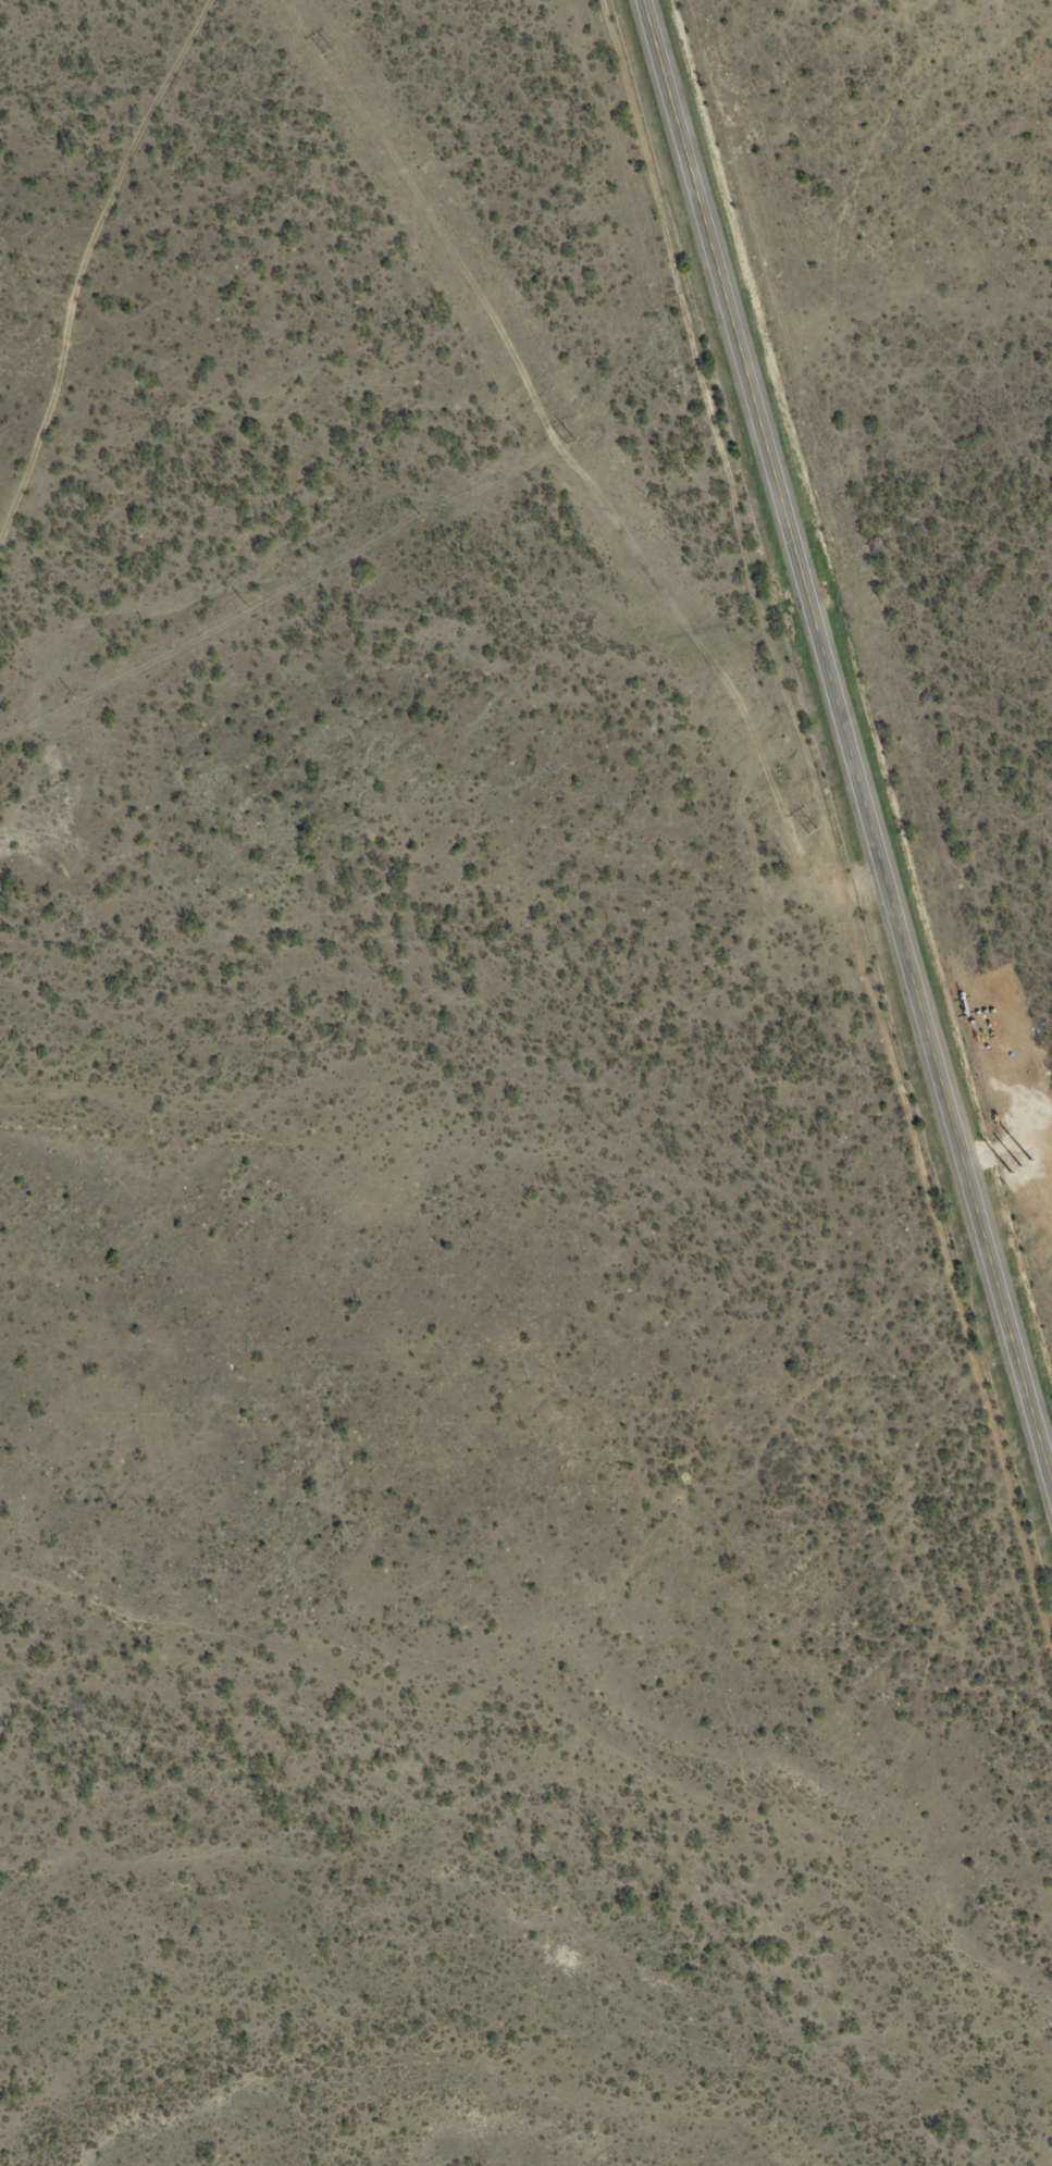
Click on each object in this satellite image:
power tower: (330, 53)
road: (75, 153)
power tower: (571, 444)
road: (849, 735)
power tower: (812, 833)
power tower: (990, 1122)

